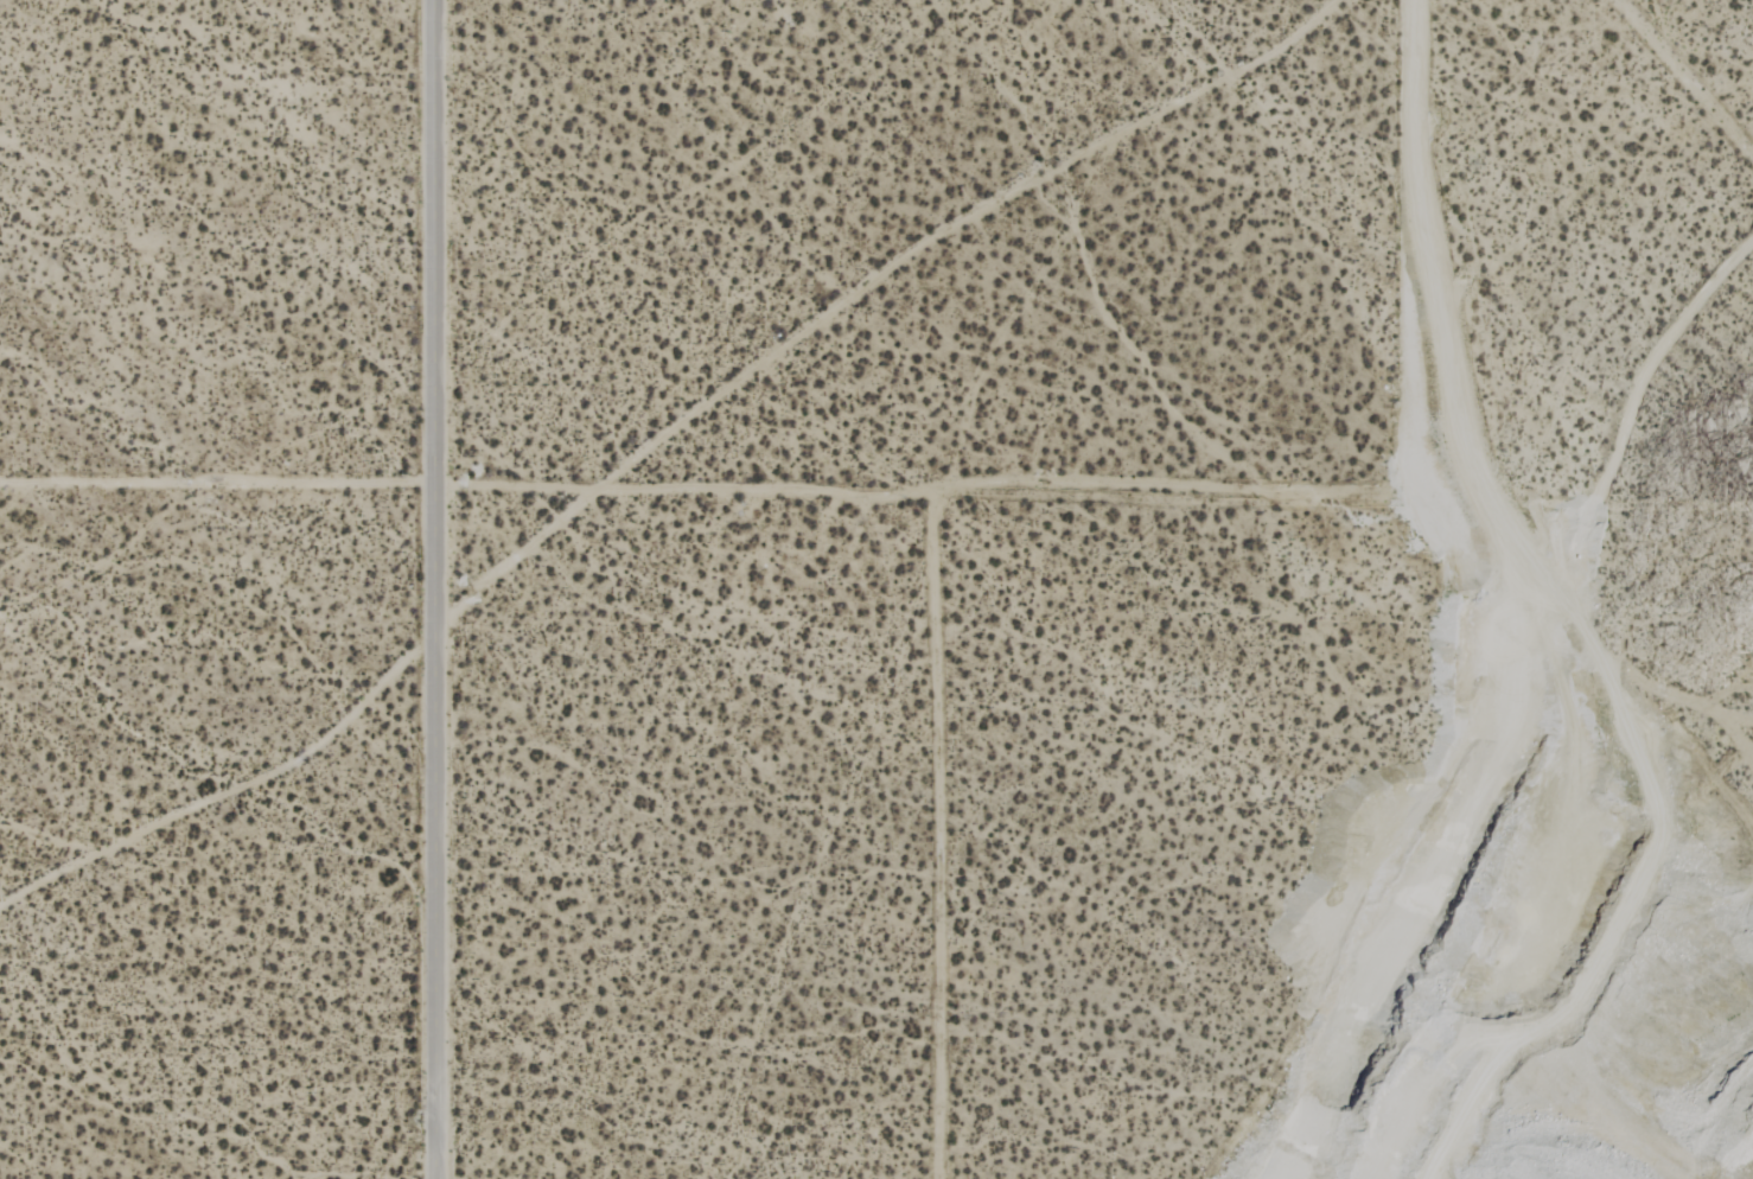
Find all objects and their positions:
road: (1409, 247)
road: (705, 483)
road: (432, 589)
quarry: (1549, 702)

